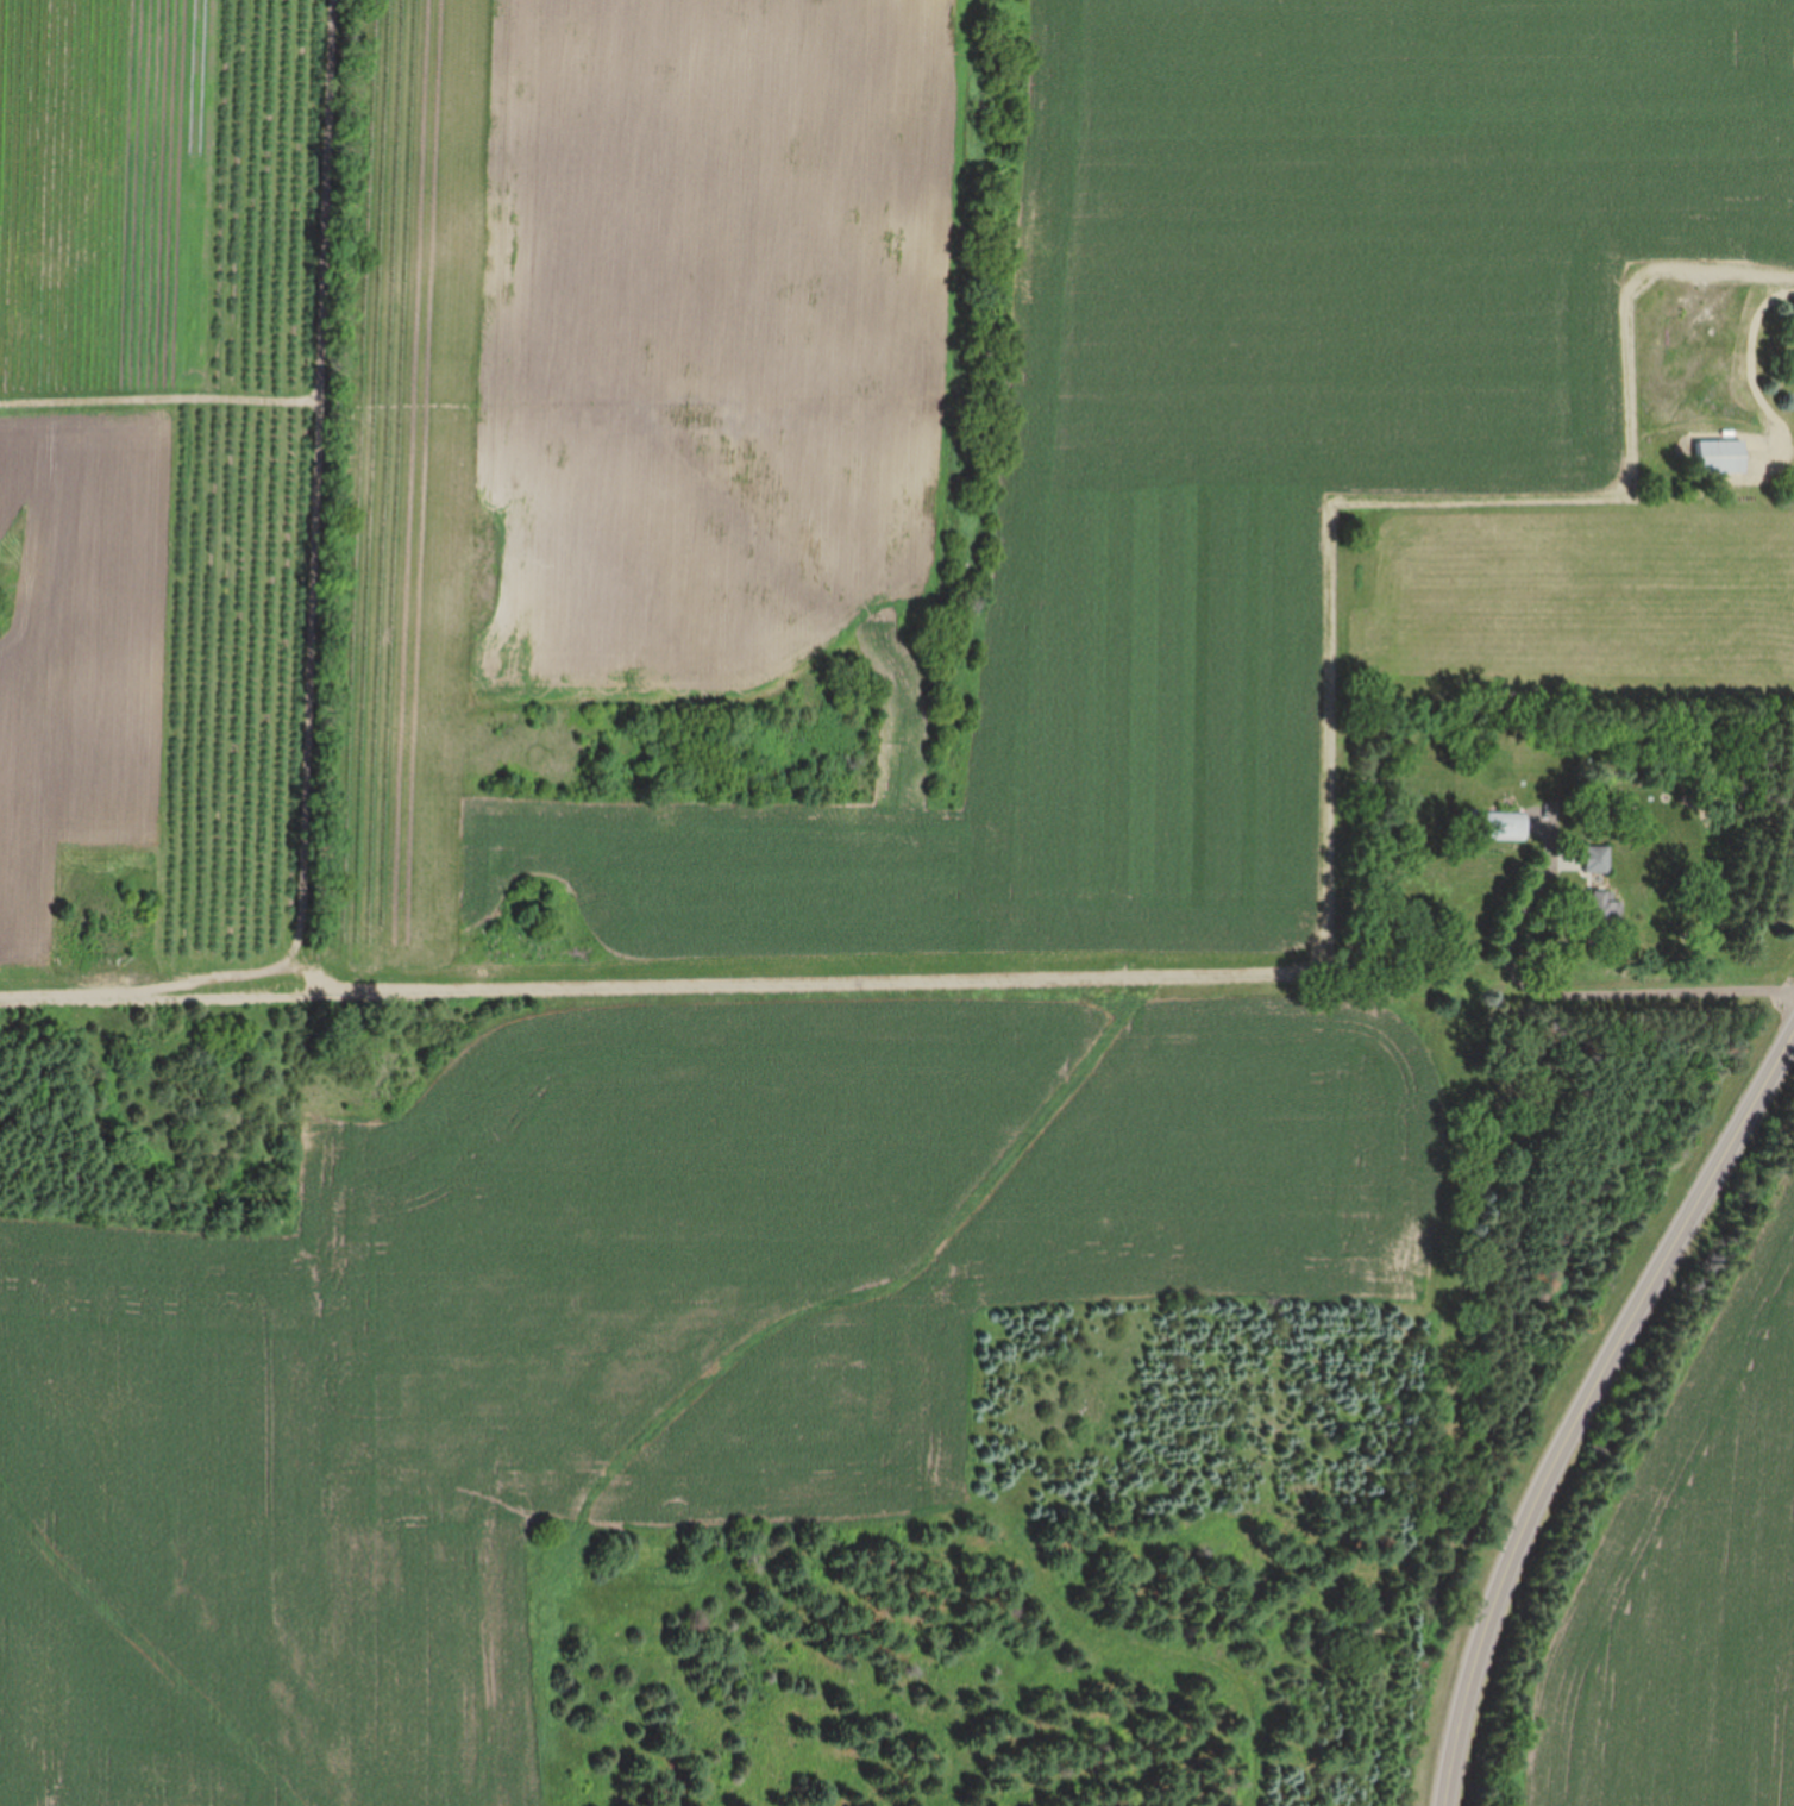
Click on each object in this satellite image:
building: (1720, 456)
building: (1498, 824)
building: (1595, 859)
building: (1598, 908)
road: (1587, 998)
road: (1587, 1405)
park: (1662, 1538)

